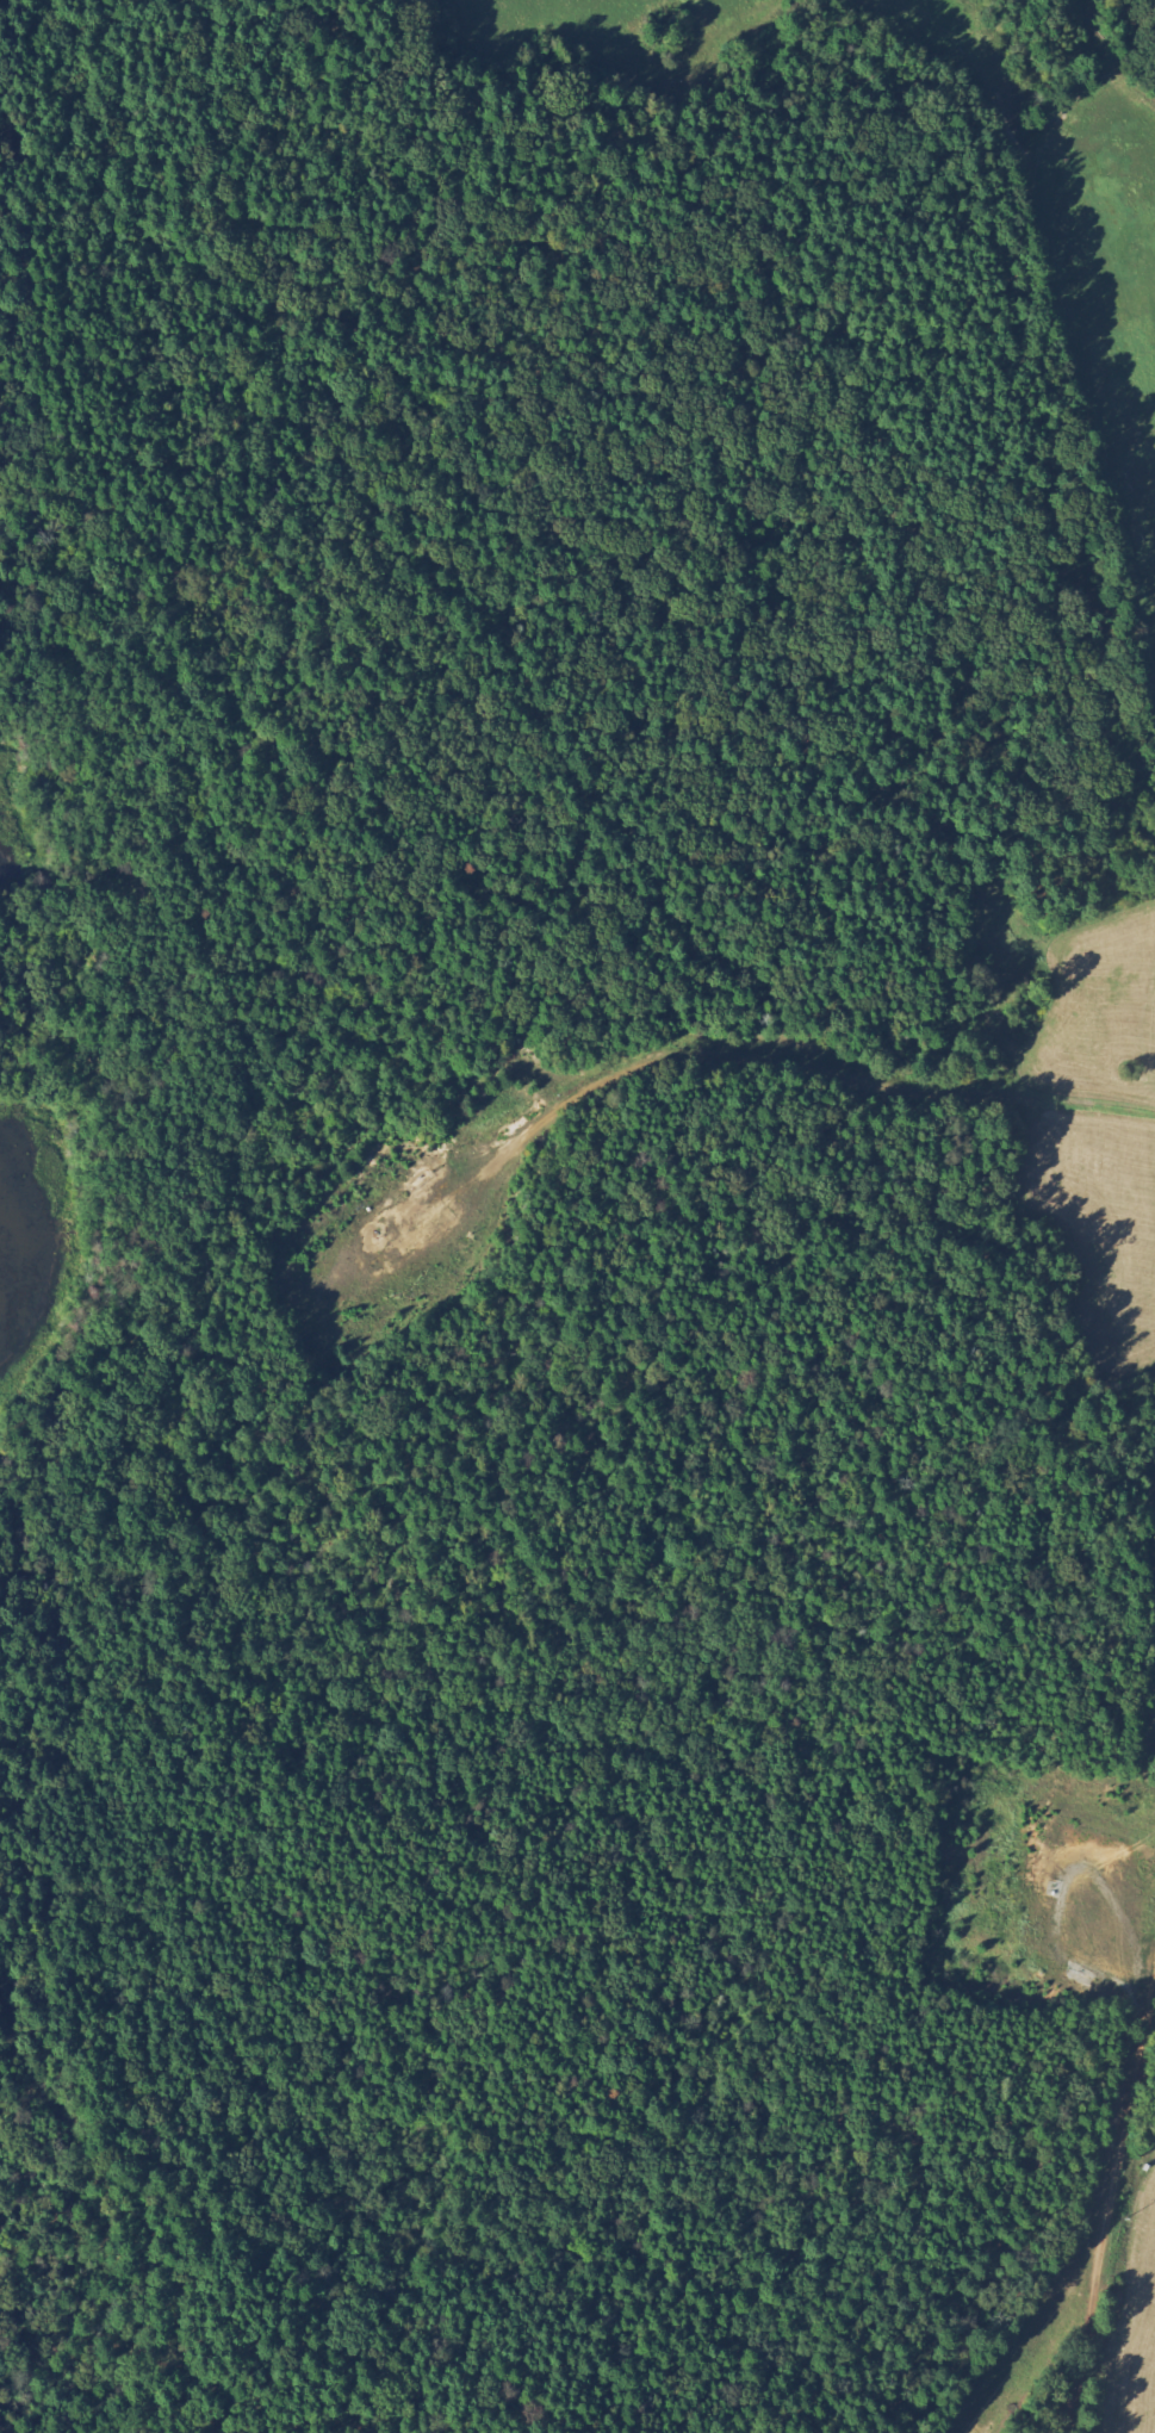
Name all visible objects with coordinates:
road: (1145, 14)
road: (738, 1056)
road: (1110, 2208)

